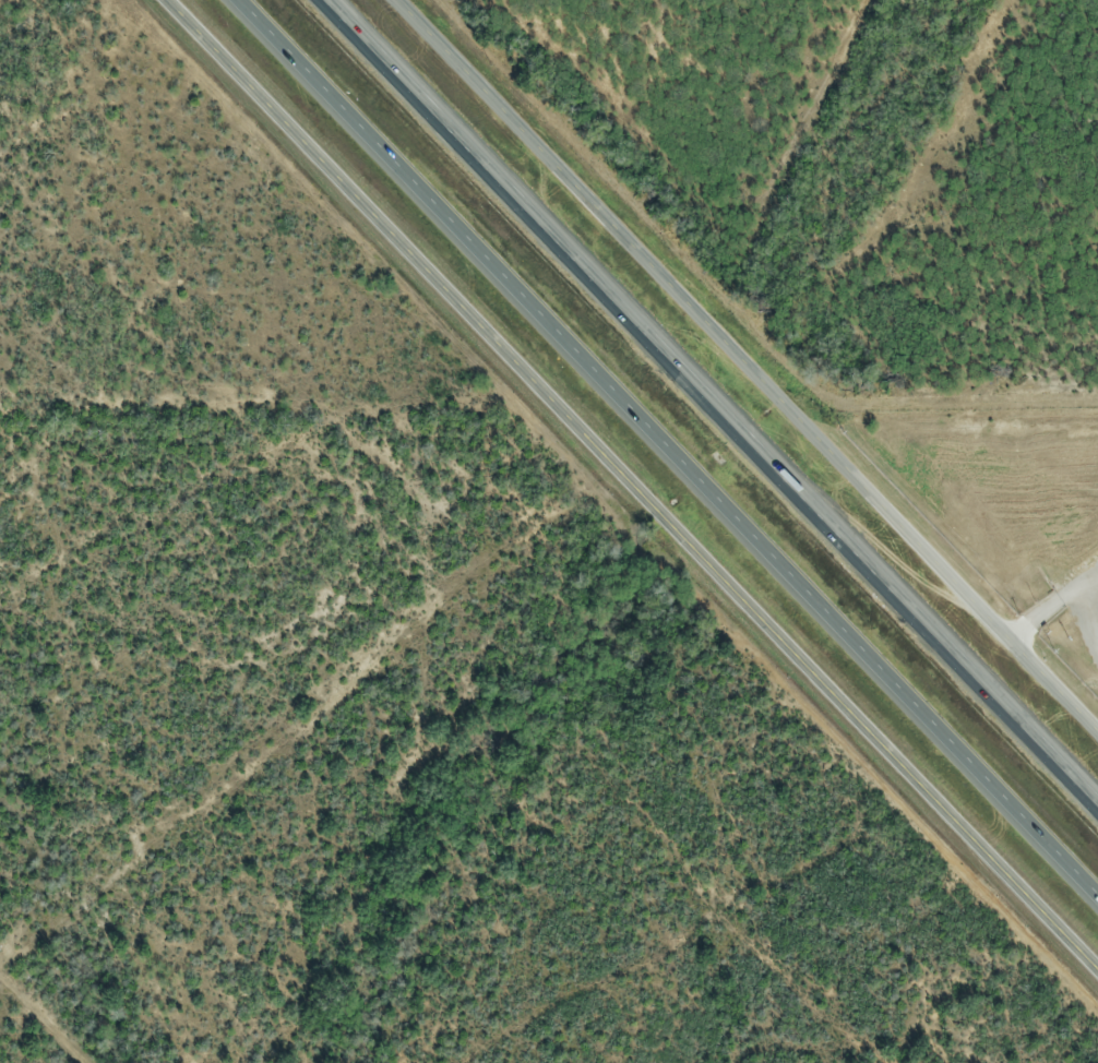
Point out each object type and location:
road: (749, 360)
road: (708, 403)
road: (669, 443)
road: (629, 483)

